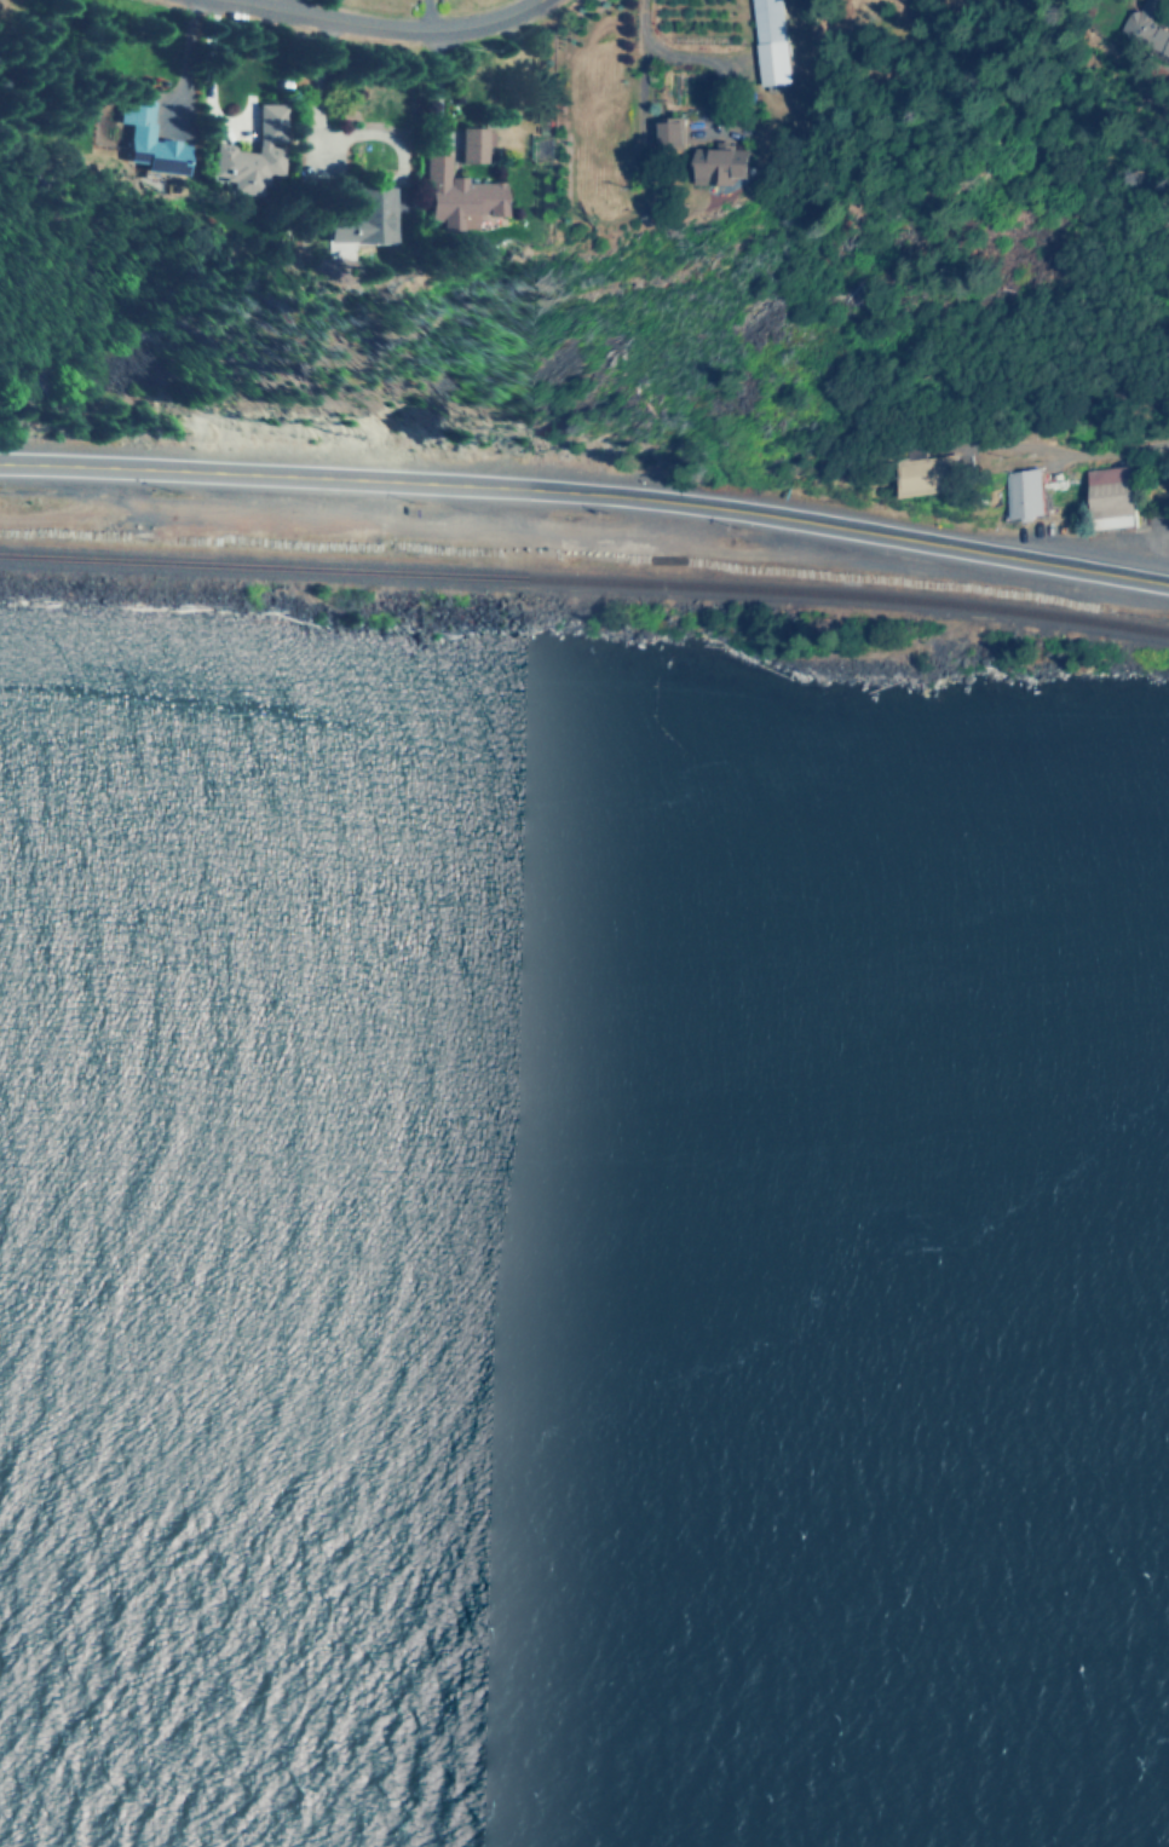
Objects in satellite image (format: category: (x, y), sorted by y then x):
road: (387, 27)
building: (362, 217)
road: (1089, 441)
road: (311, 475)
building: (927, 475)
building: (1024, 492)
building: (1110, 496)
road: (1158, 512)
road: (896, 537)
railway: (584, 581)

